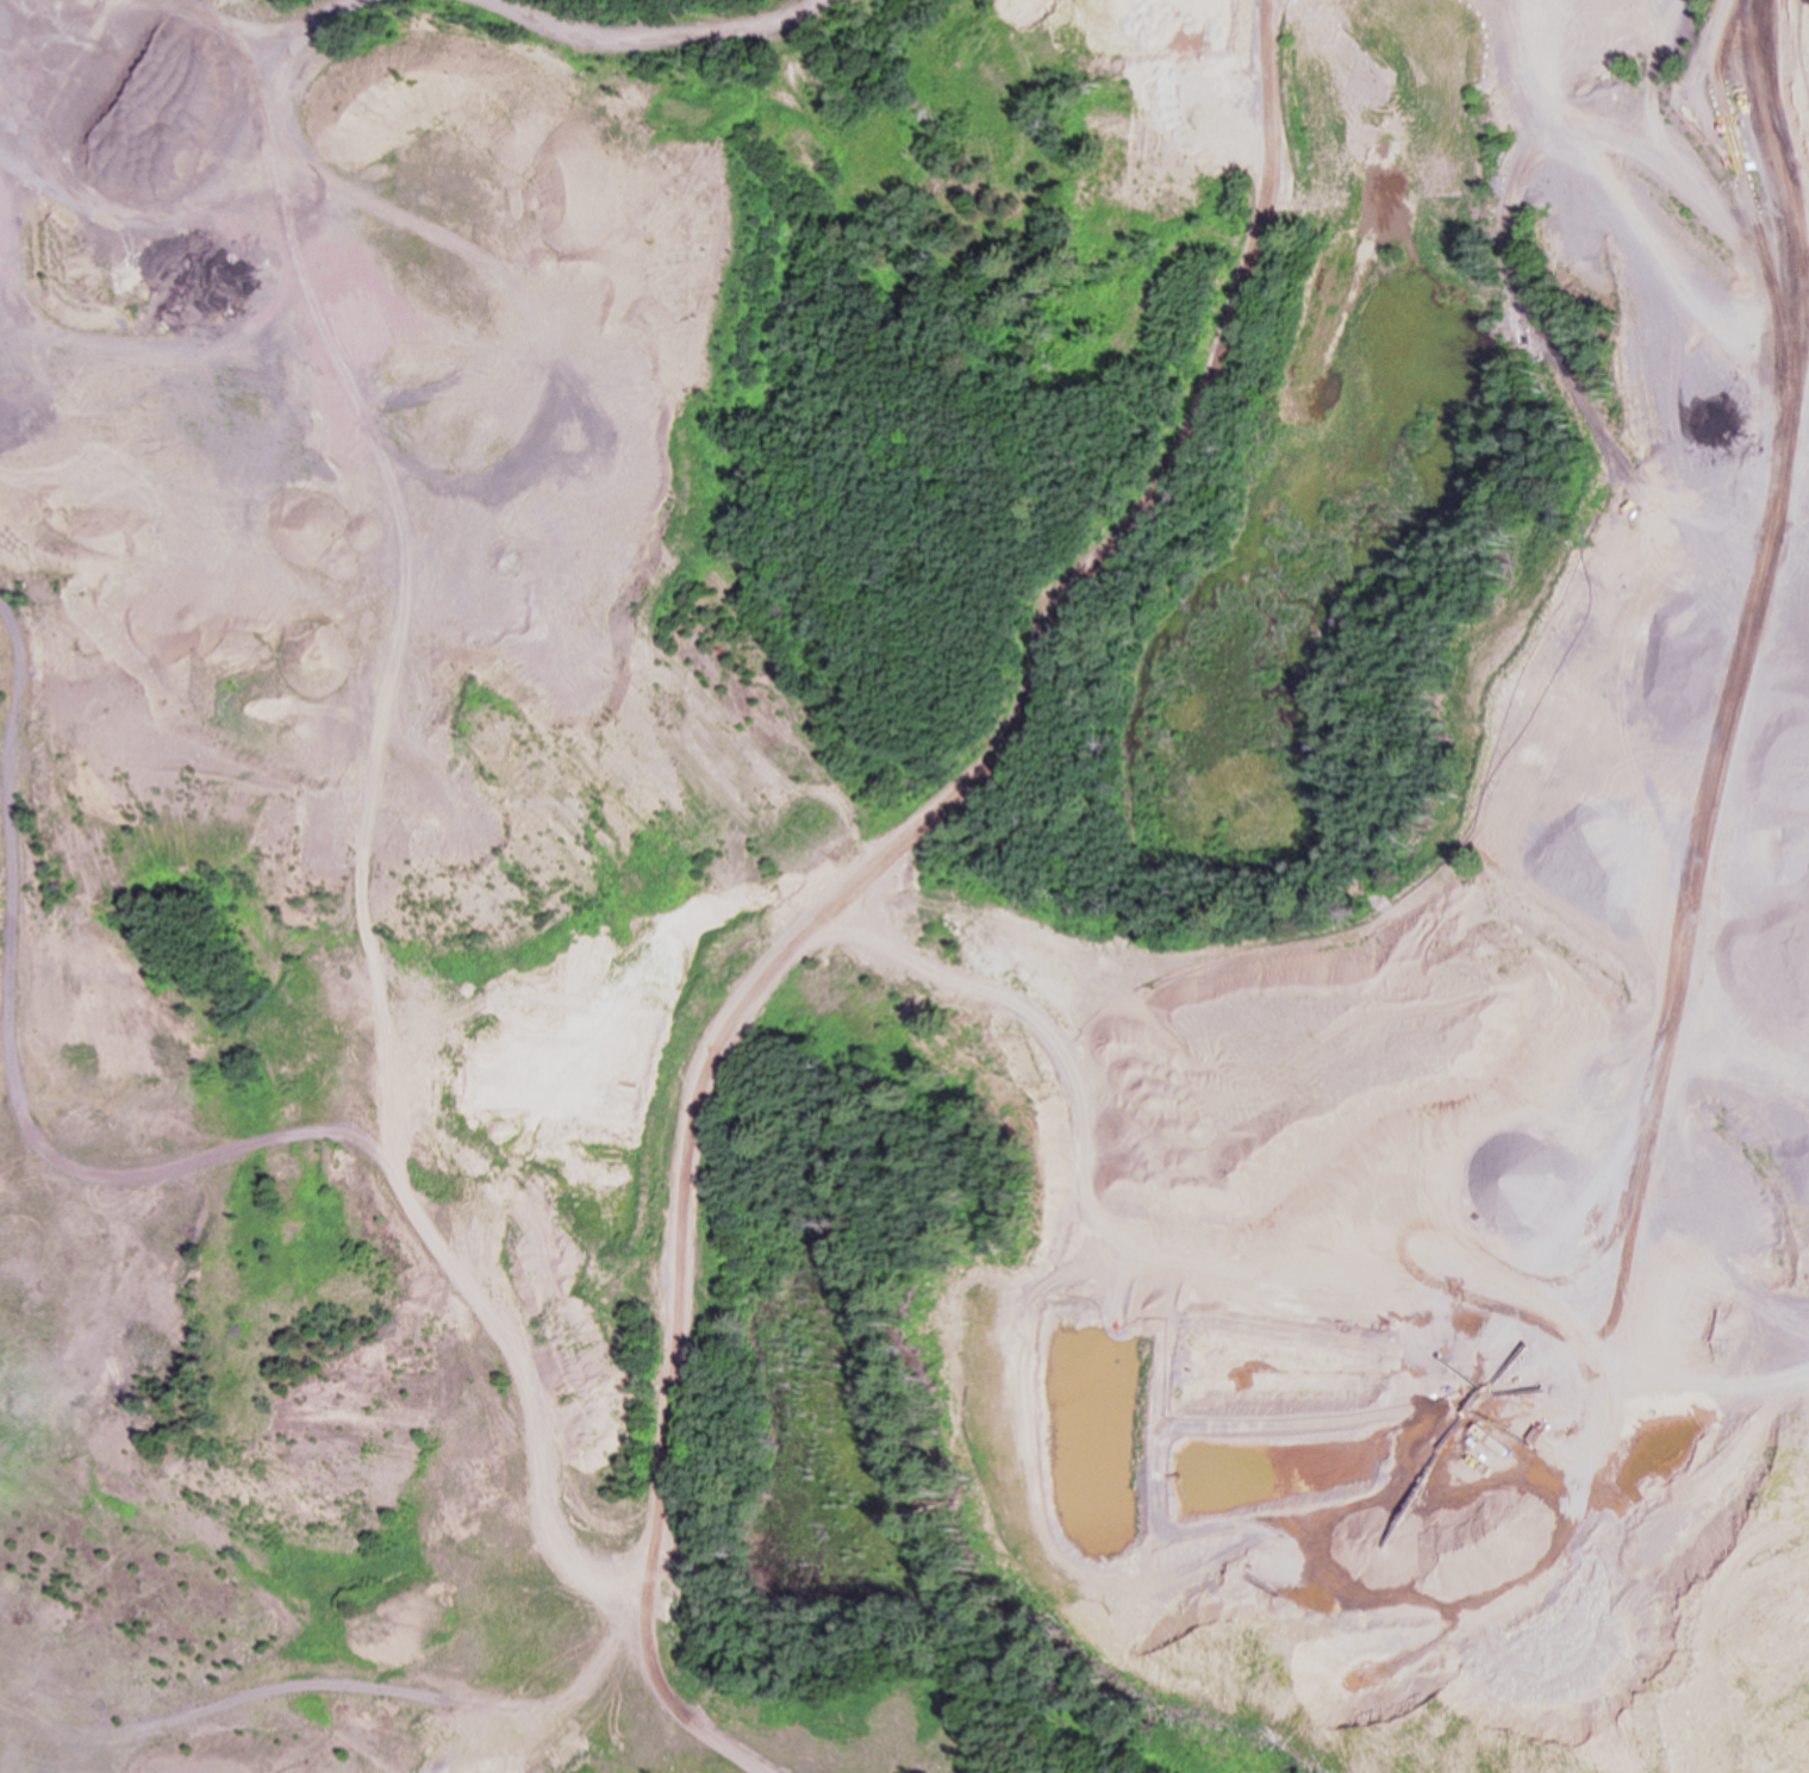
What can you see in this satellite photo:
road: (659, 31)
road: (171, 63)
road: (1770, 211)
road: (1789, 623)
quarry: (1543, 753)
road: (1710, 779)
quarry: (393, 869)
road: (868, 878)
quarry: (904, 886)
road: (207, 1153)

